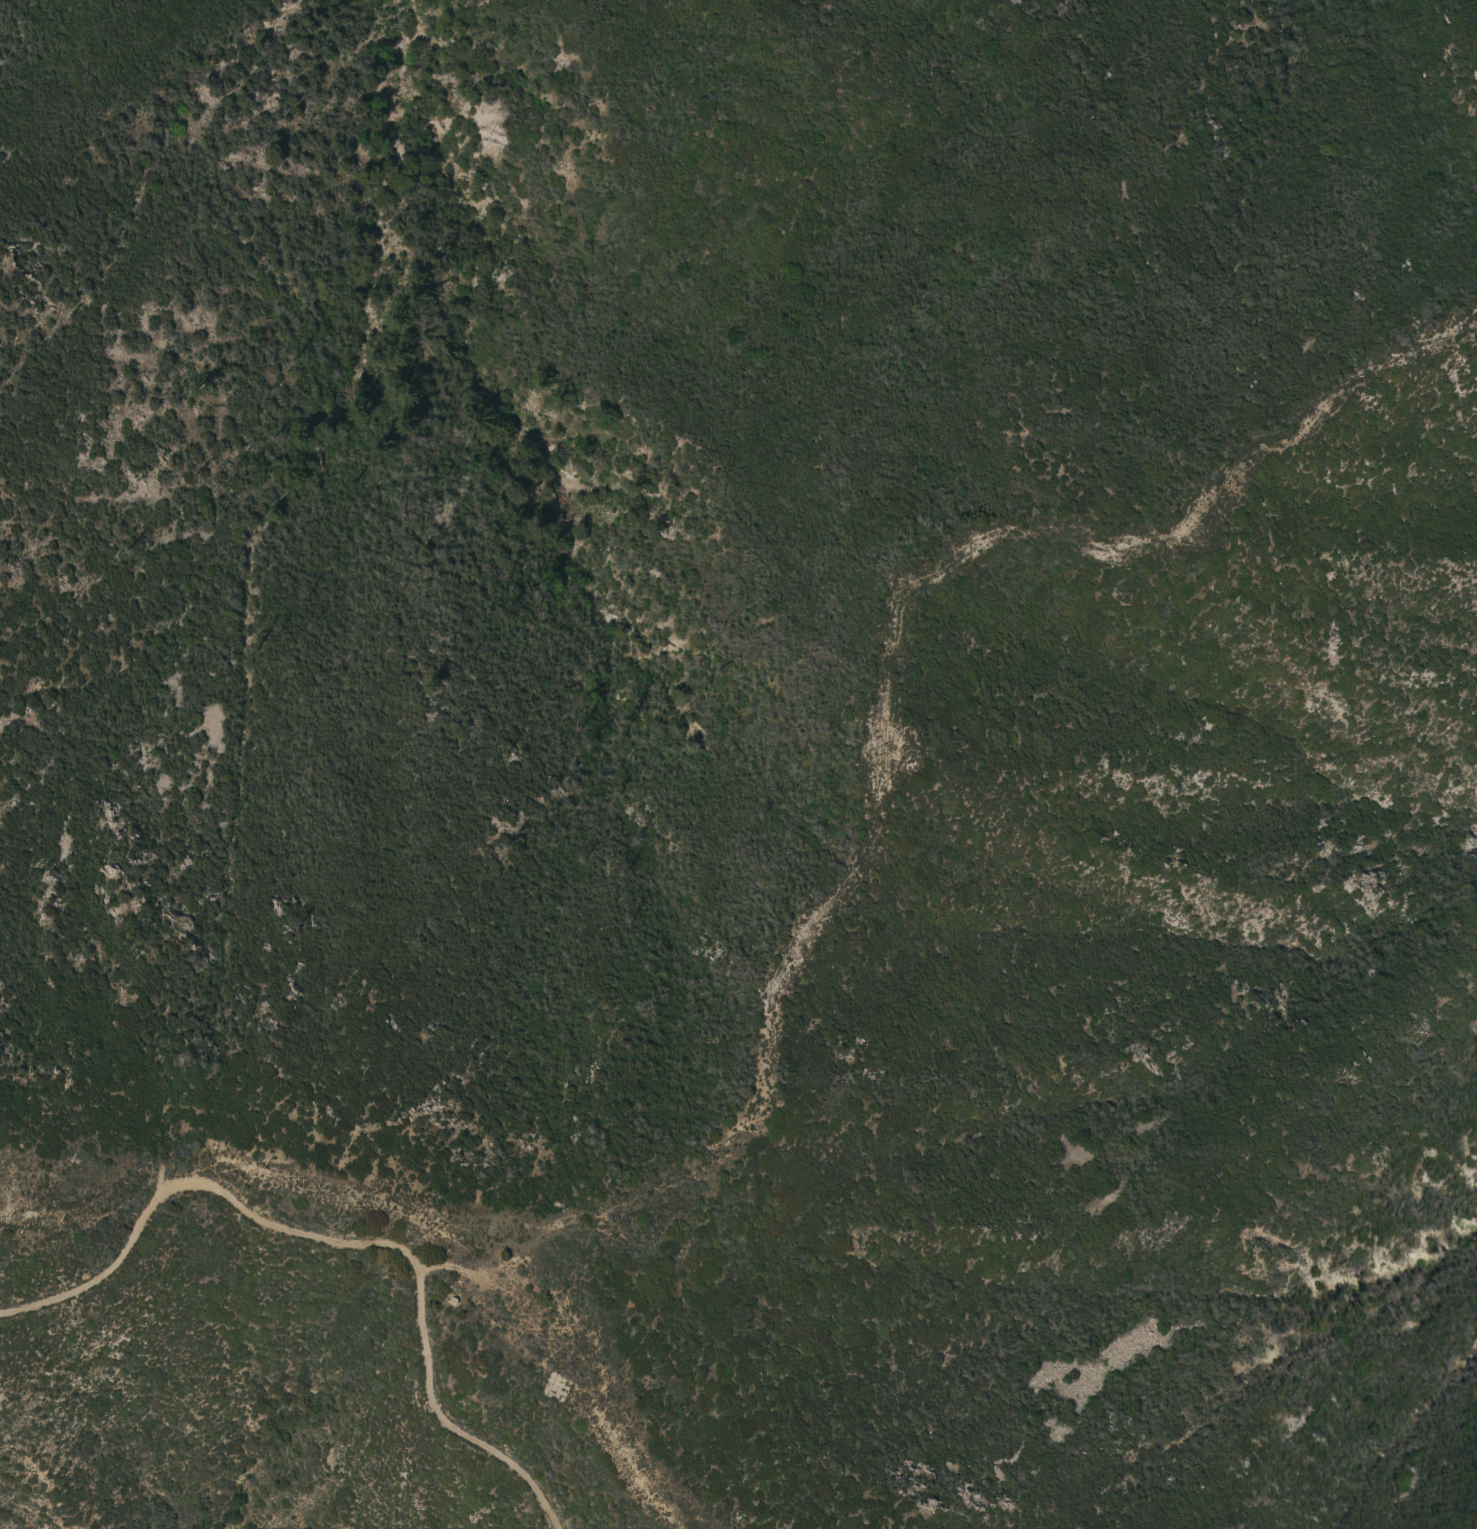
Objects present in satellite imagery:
road: (343, 1240)

